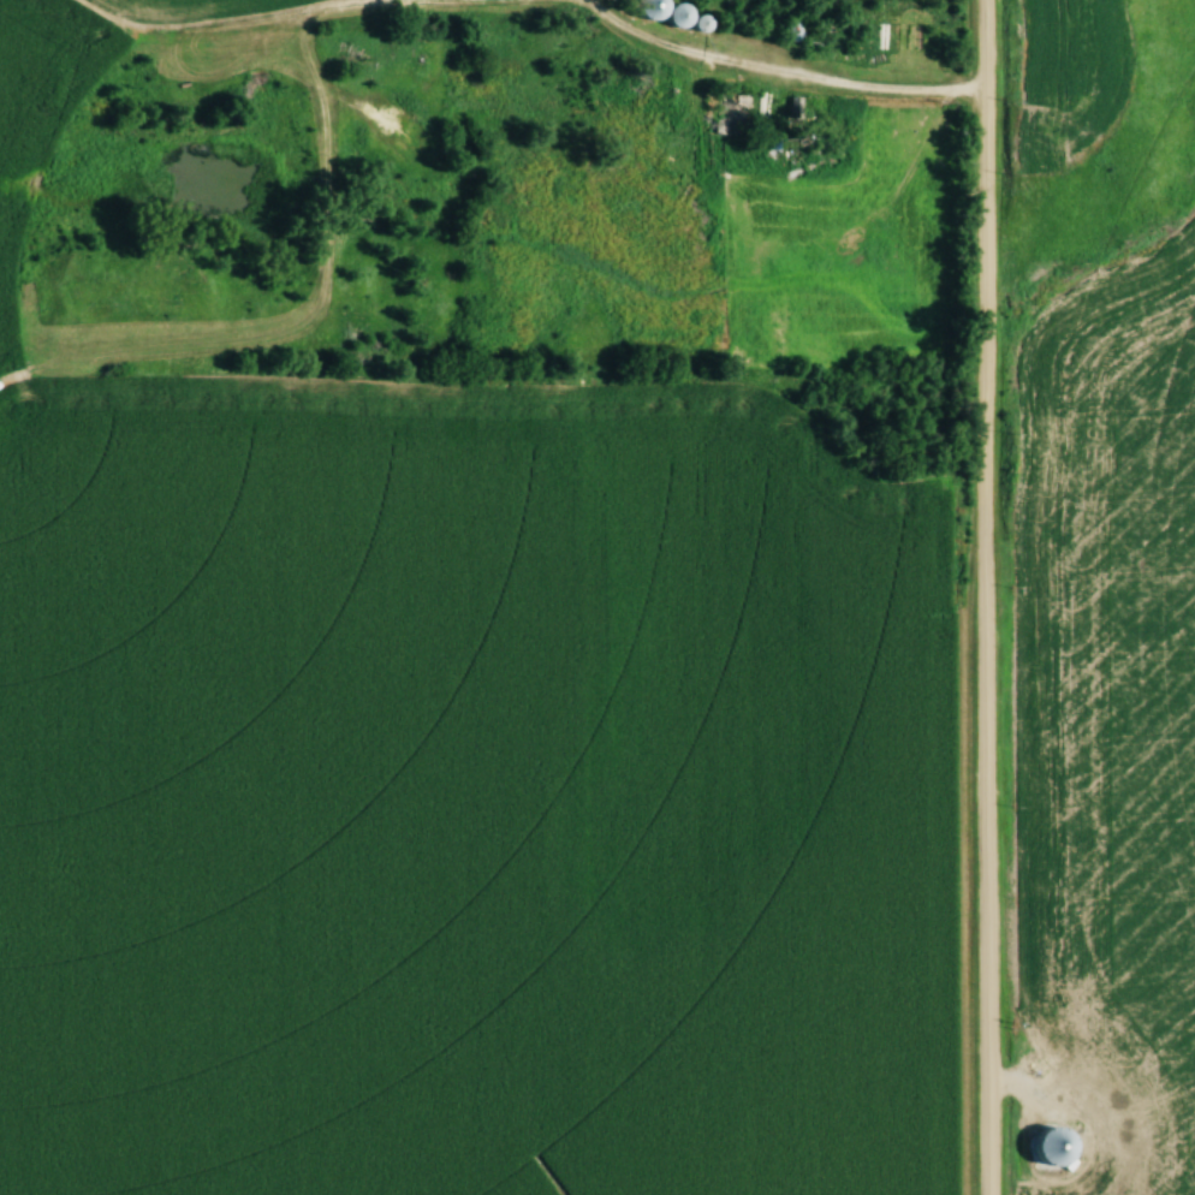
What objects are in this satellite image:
building: (640, 7)
building: (670, 14)
building: (881, 18)
building: (787, 31)
road: (771, 67)
building: (762, 105)
building: (717, 113)
building: (778, 153)
road: (979, 596)
building: (1045, 1147)

